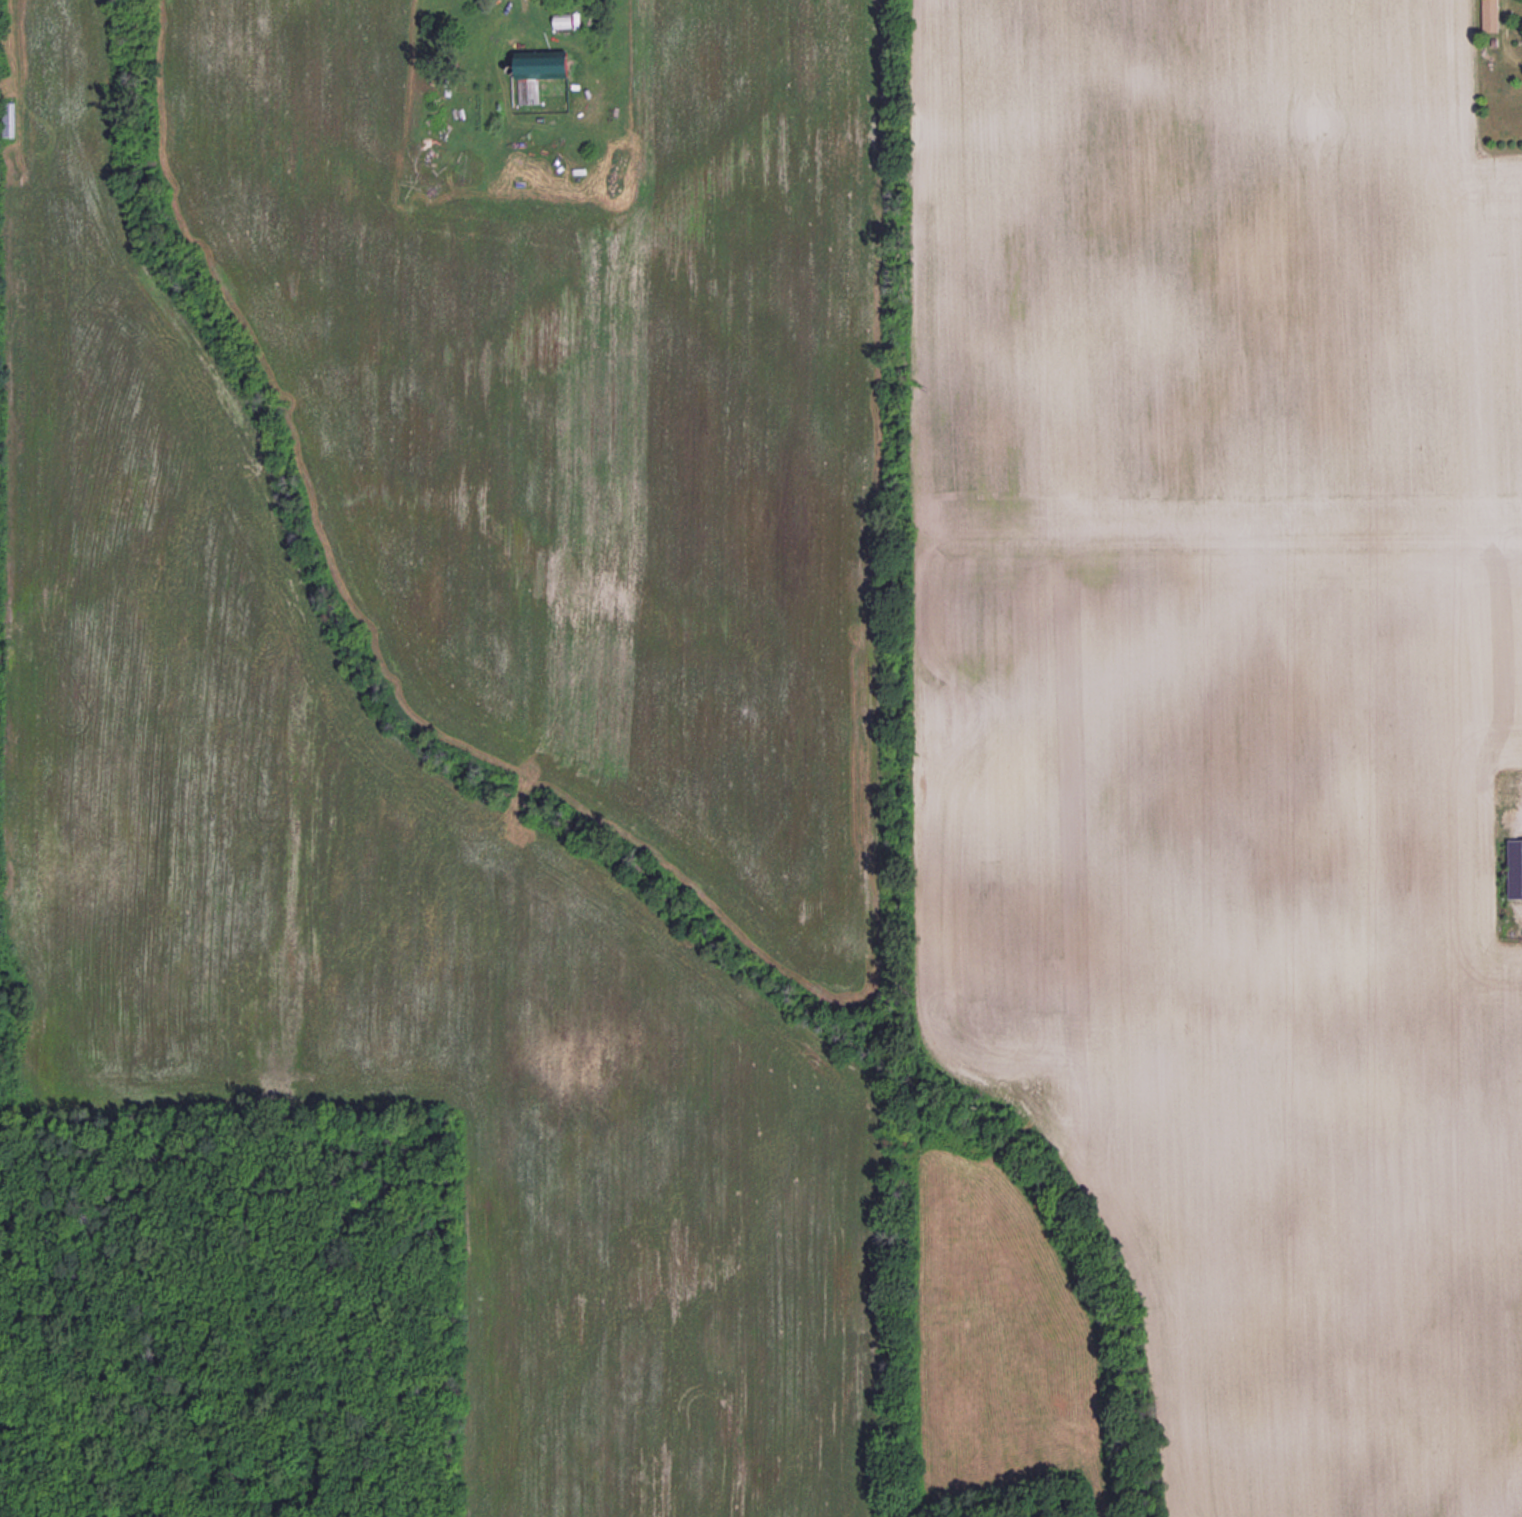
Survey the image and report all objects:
building: (1488, 15)
building: (561, 20)
building: (539, 71)
building: (1514, 869)

